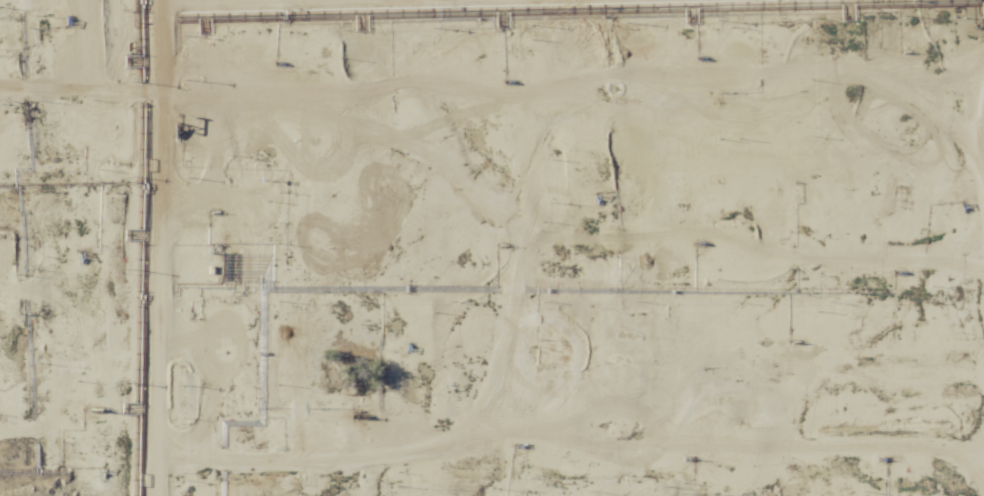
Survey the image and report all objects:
road: (947, 108)
road: (165, 306)
building: (632, 334)
building: (361, 353)
road: (229, 370)
building: (655, 388)

